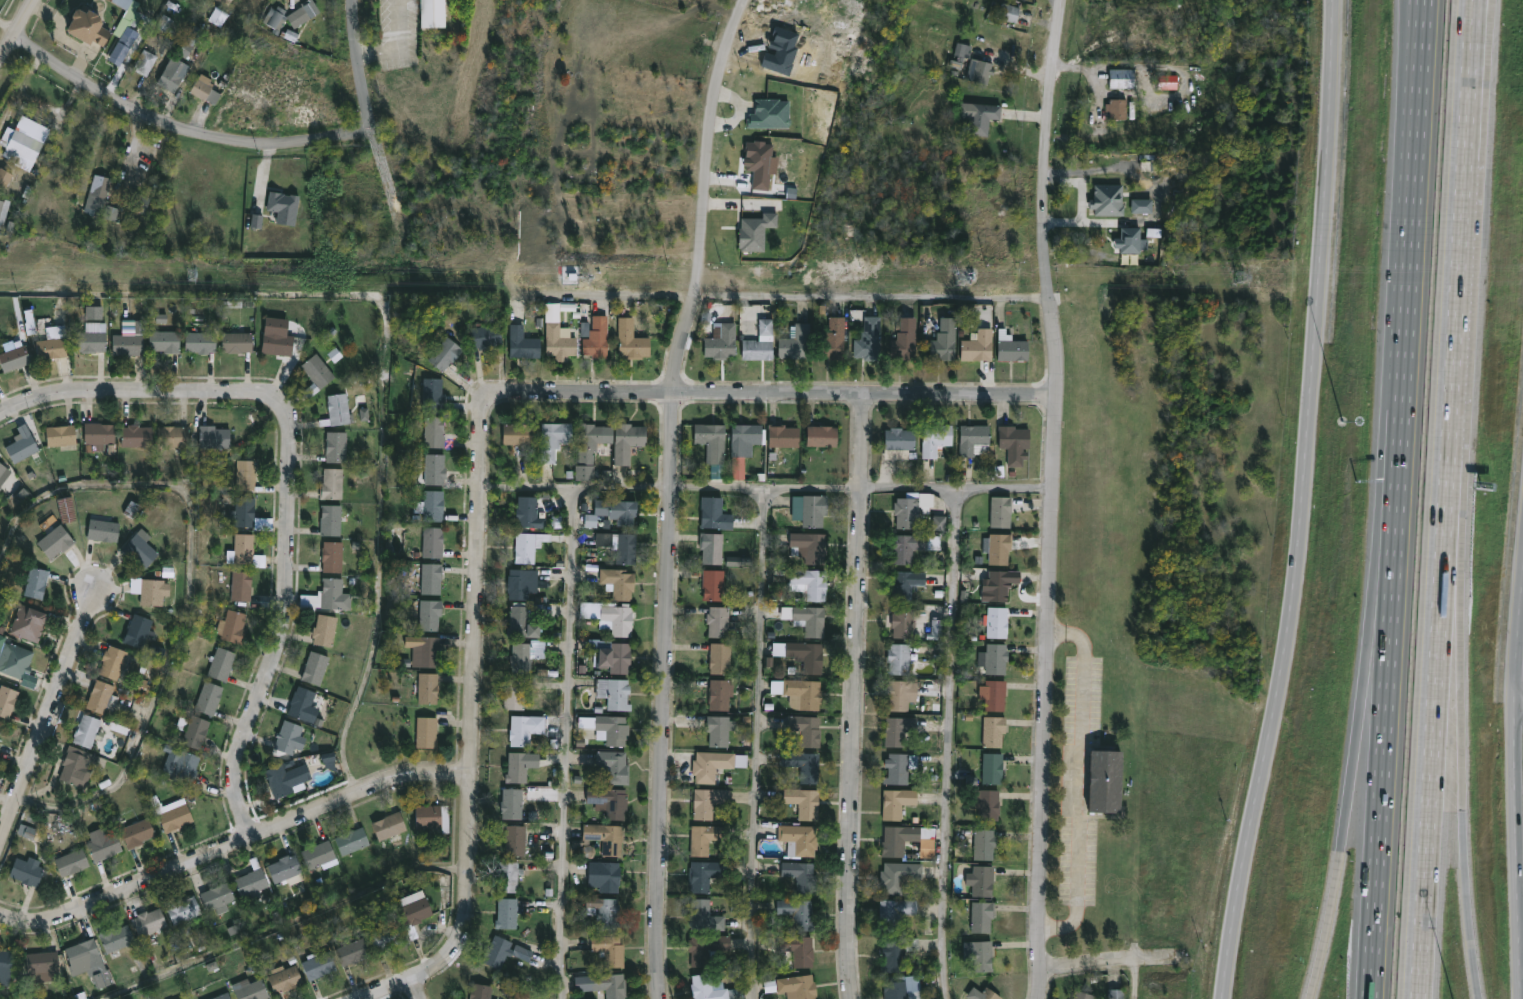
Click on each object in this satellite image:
road: (1474, 10)
road: (1477, 10)
building: (1008, 12)
building: (433, 13)
building: (291, 14)
road: (9, 26)
building: (87, 26)
building: (124, 30)
road: (17, 31)
road: (397, 44)
building: (145, 62)
building: (980, 70)
building: (172, 74)
building: (1122, 78)
building: (1169, 82)
building: (204, 89)
road: (362, 89)
building: (1118, 108)
building: (980, 116)
road: (181, 132)
building: (26, 141)
building: (6, 179)
building: (348, 189)
building: (98, 193)
road: (708, 196)
road: (1047, 197)
building: (1109, 201)
building: (140, 204)
building: (3, 211)
building: (273, 225)
building: (375, 240)
power tower: (190, 276)
power tower: (594, 278)
power tower: (1249, 278)
road: (786, 294)
road: (1408, 299)
road: (1458, 301)
building: (486, 336)
building: (558, 337)
building: (597, 337)
building: (91, 338)
building: (906, 338)
building: (129, 339)
building: (632, 340)
building: (722, 340)
building: (833, 340)
building: (869, 340)
building: (945, 340)
building: (164, 341)
building: (200, 342)
building: (236, 342)
building: (796, 342)
building: (52, 343)
building: (277, 343)
building: (523, 343)
building: (760, 343)
building: (979, 346)
building: (1011, 347)
building: (444, 354)
building: (14, 357)
road: (388, 357)
building: (316, 374)
building: (0, 376)
road: (775, 393)
building: (433, 394)
building: (337, 410)
building: (434, 432)
building: (99, 434)
building: (517, 434)
building: (60, 436)
building: (135, 436)
building: (173, 436)
building: (783, 436)
building: (821, 436)
building: (213, 437)
building: (745, 439)
building: (900, 439)
building: (554, 440)
building: (712, 440)
building: (935, 440)
building: (974, 440)
building: (627, 442)
building: (1015, 443)
building: (22, 444)
building: (336, 447)
building: (592, 448)
building: (432, 470)
building: (3, 473)
building: (245, 474)
road: (284, 482)
building: (332, 484)
building: (0, 487)
road: (770, 488)
road: (1305, 501)
building: (431, 506)
building: (810, 509)
building: (912, 509)
building: (66, 510)
building: (244, 511)
building: (617, 511)
building: (1001, 511)
building: (526, 512)
building: (715, 512)
building: (330, 520)
building: (102, 530)
building: (55, 541)
building: (432, 541)
building: (528, 545)
building: (810, 545)
building: (912, 545)
building: (619, 546)
building: (712, 546)
building: (244, 547)
building: (997, 547)
building: (140, 550)
building: (332, 555)
building: (431, 578)
building: (35, 581)
building: (521, 582)
building: (618, 582)
building: (809, 582)
building: (714, 583)
building: (906, 583)
building: (241, 584)
building: (996, 585)
building: (152, 591)
building: (335, 593)
road: (191, 598)
building: (430, 613)
building: (618, 618)
building: (807, 618)
building: (524, 619)
building: (720, 621)
building: (903, 621)
building: (28, 622)
building: (995, 622)
building: (234, 624)
building: (325, 628)
road: (1452, 628)
building: (138, 629)
road: (1378, 642)
building: (429, 650)
building: (803, 653)
building: (525, 654)
building: (612, 654)
building: (994, 656)
building: (720, 657)
building: (898, 657)
building: (14, 659)
building: (112, 661)
building: (221, 662)
building: (315, 667)
building: (428, 688)
building: (513, 692)
building: (799, 692)
building: (613, 693)
building: (720, 693)
building: (901, 693)
building: (993, 694)
road: (856, 695)
building: (101, 696)
building: (208, 697)
road: (668, 697)
road: (1049, 697)
building: (7, 700)
building: (301, 701)
road: (1519, 704)
road: (45, 718)
building: (0, 727)
road: (473, 727)
building: (608, 727)
building: (806, 728)
building: (898, 728)
building: (520, 729)
building: (720, 729)
building: (87, 730)
building: (993, 730)
building: (196, 731)
building: (426, 731)
building: (288, 736)
road: (759, 743)
road: (566, 744)
road: (949, 745)
building: (0, 747)
building: (715, 763)
building: (804, 764)
building: (77, 765)
building: (614, 765)
building: (516, 766)
building: (186, 767)
building: (899, 767)
building: (993, 767)
building: (287, 778)
building: (1106, 779)
road: (1079, 780)
road: (1429, 791)
road: (1516, 793)
road: (1380, 798)
building: (608, 800)
building: (709, 801)
building: (511, 802)
building: (804, 802)
building: (897, 802)
building: (987, 802)
building: (428, 815)
building: (175, 816)
building: (389, 825)
building: (138, 832)
road: (1464, 836)
building: (604, 837)
building: (904, 837)
building: (703, 838)
building: (800, 838)
building: (352, 840)
building: (514, 840)
road: (234, 842)
building: (985, 843)
road: (1342, 843)
building: (105, 846)
building: (319, 855)
building: (71, 861)
building: (284, 867)
building: (25, 871)
building: (706, 874)
building: (802, 874)
building: (508, 875)
building: (604, 875)
building: (900, 875)
building: (982, 879)
building: (251, 880)
building: (217, 897)
building: (181, 908)
building: (414, 910)
building: (894, 911)
building: (506, 912)
building: (798, 912)
building: (608, 913)
building: (705, 916)
building: (982, 916)
road: (291, 925)
building: (148, 927)
building: (115, 937)
building: (386, 937)
building: (707, 946)
building: (610, 949)
building: (82, 951)
building: (352, 951)
building: (504, 951)
building: (803, 951)
building: (895, 955)
building: (982, 955)
building: (6, 961)
building: (318, 963)
building: (41, 965)
road: (1116, 965)
building: (285, 978)
road: (1140, 981)
building: (603, 984)
building: (798, 986)
road: (417, 988)
building: (713, 988)
building: (251, 989)
building: (901, 990)
building: (480, 991)
building: (1116, 993)
building: (989, 994)
building: (1083, 995)
building: (222, 996)
building: (181, 998)

